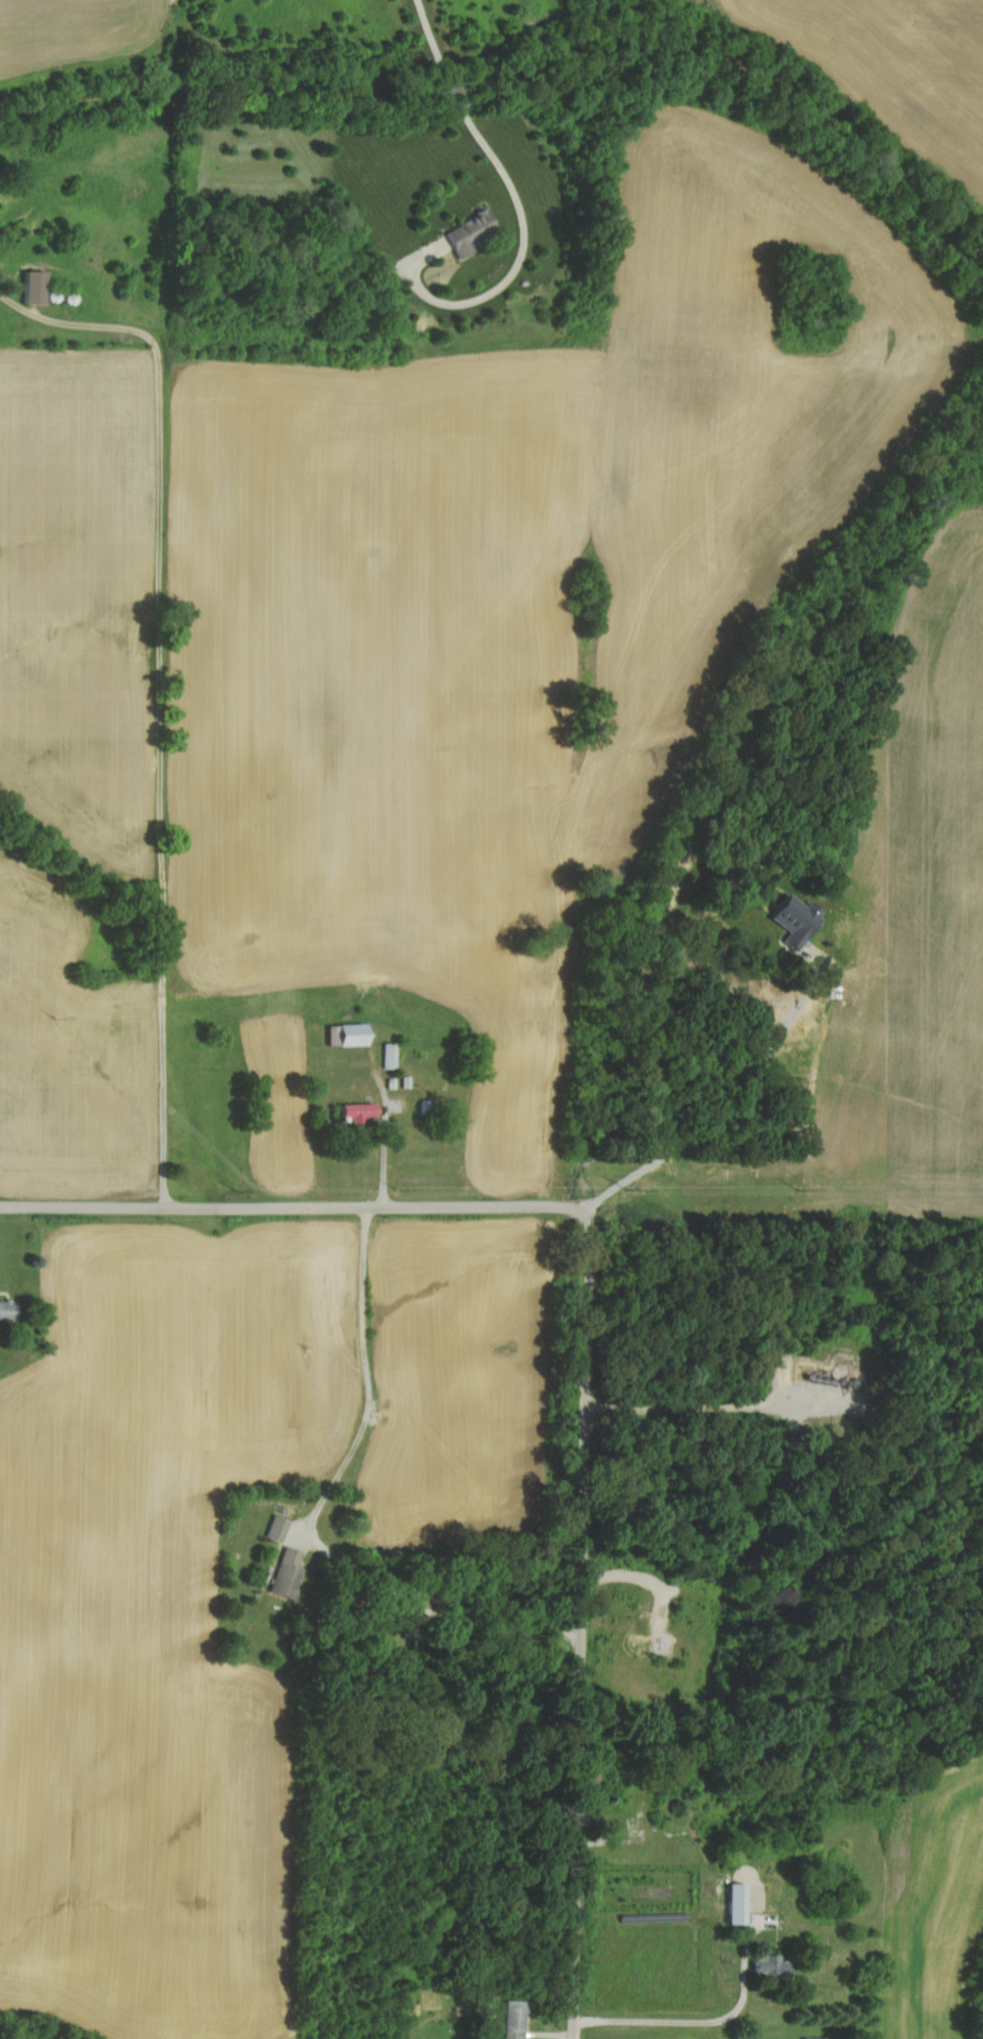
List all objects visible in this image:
crop: (74, 28)
road: (429, 33)
road: (452, 91)
building: (471, 233)
road: (520, 251)
building: (37, 288)
road: (159, 691)
building: (799, 921)
building: (349, 1036)
building: (360, 1114)
road: (386, 1129)
building: (9, 1310)
road: (588, 1332)
road: (320, 1513)
building: (280, 1527)
building: (290, 1574)
building: (741, 1904)
building: (774, 1966)
building: (517, 2020)
road: (684, 2020)
building: (810, 2038)

